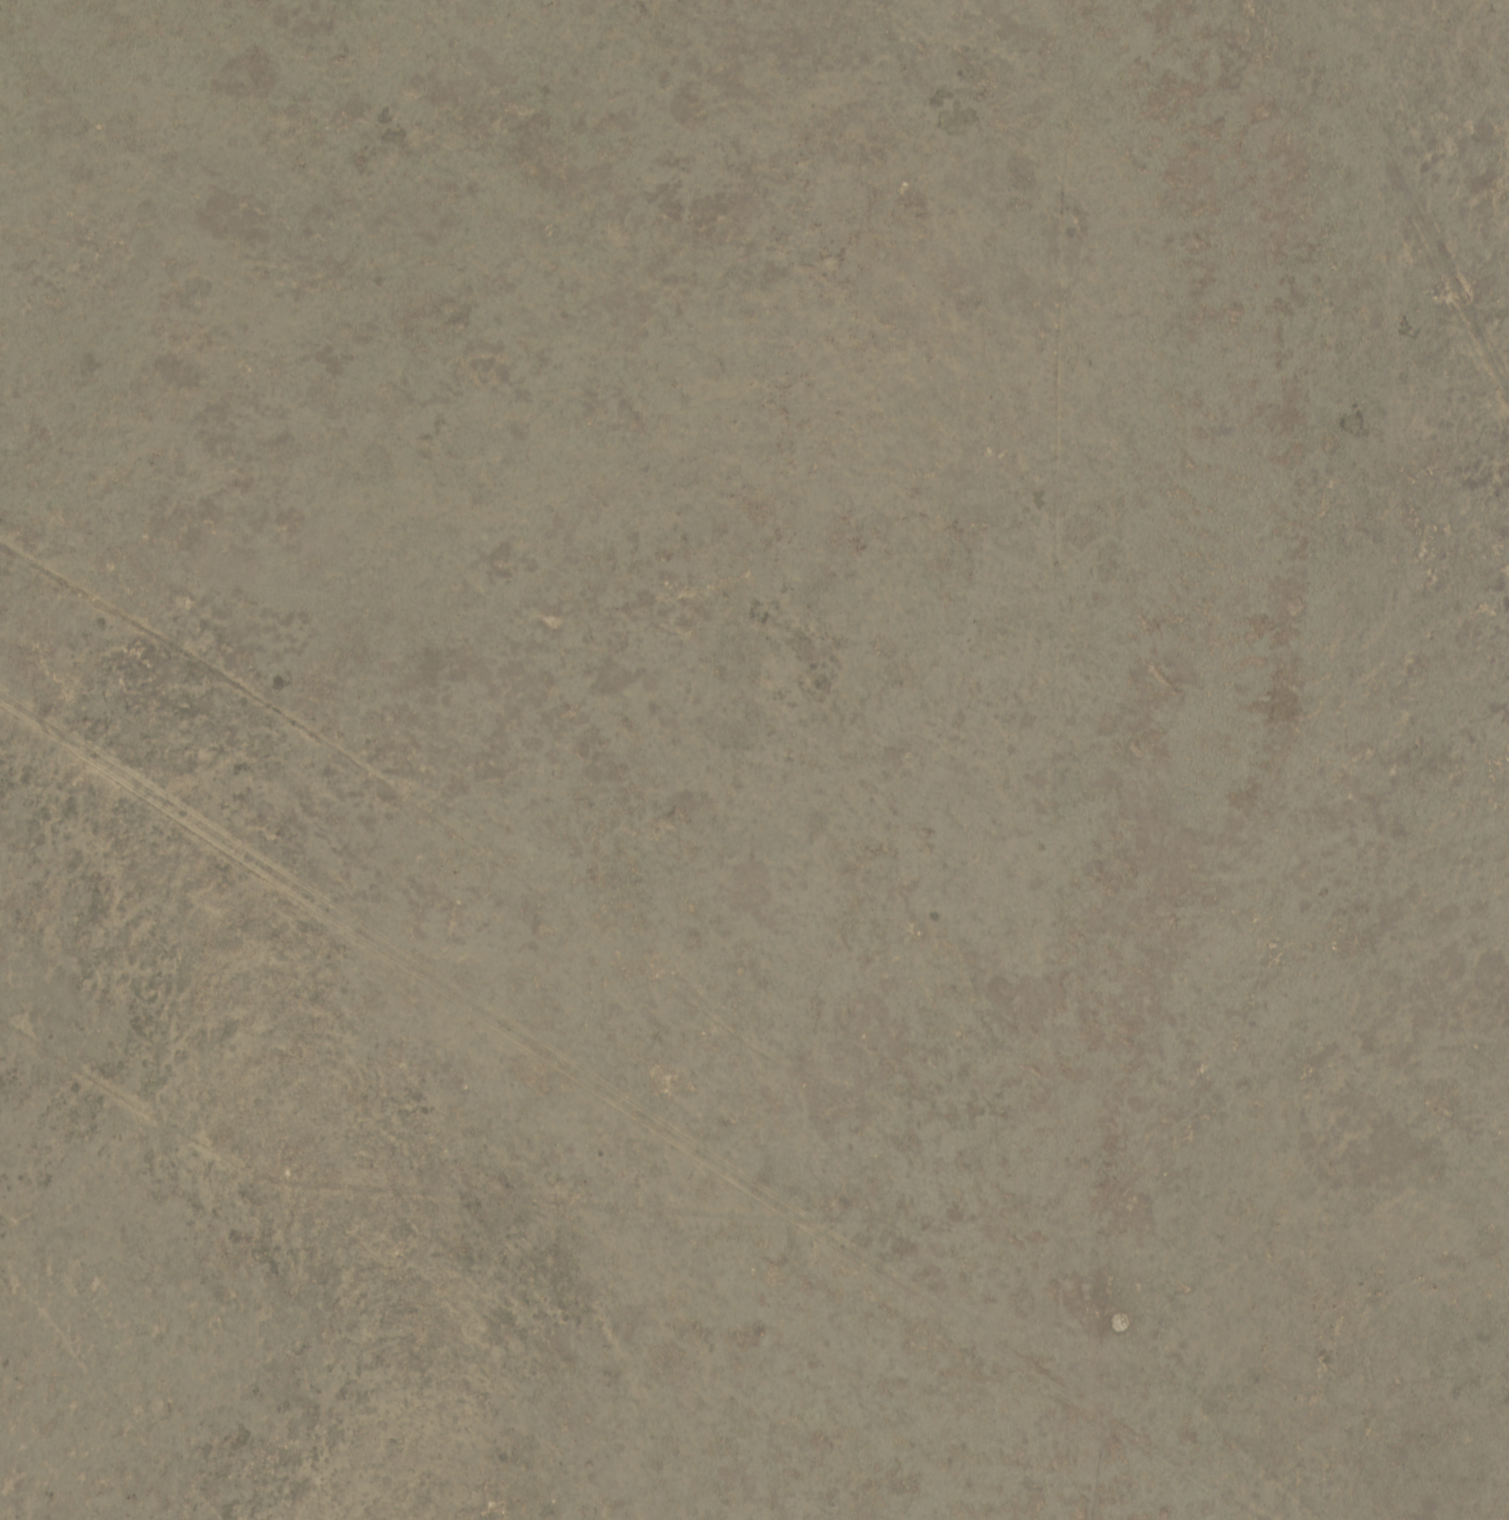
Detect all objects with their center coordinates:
road: (701, 1204)

